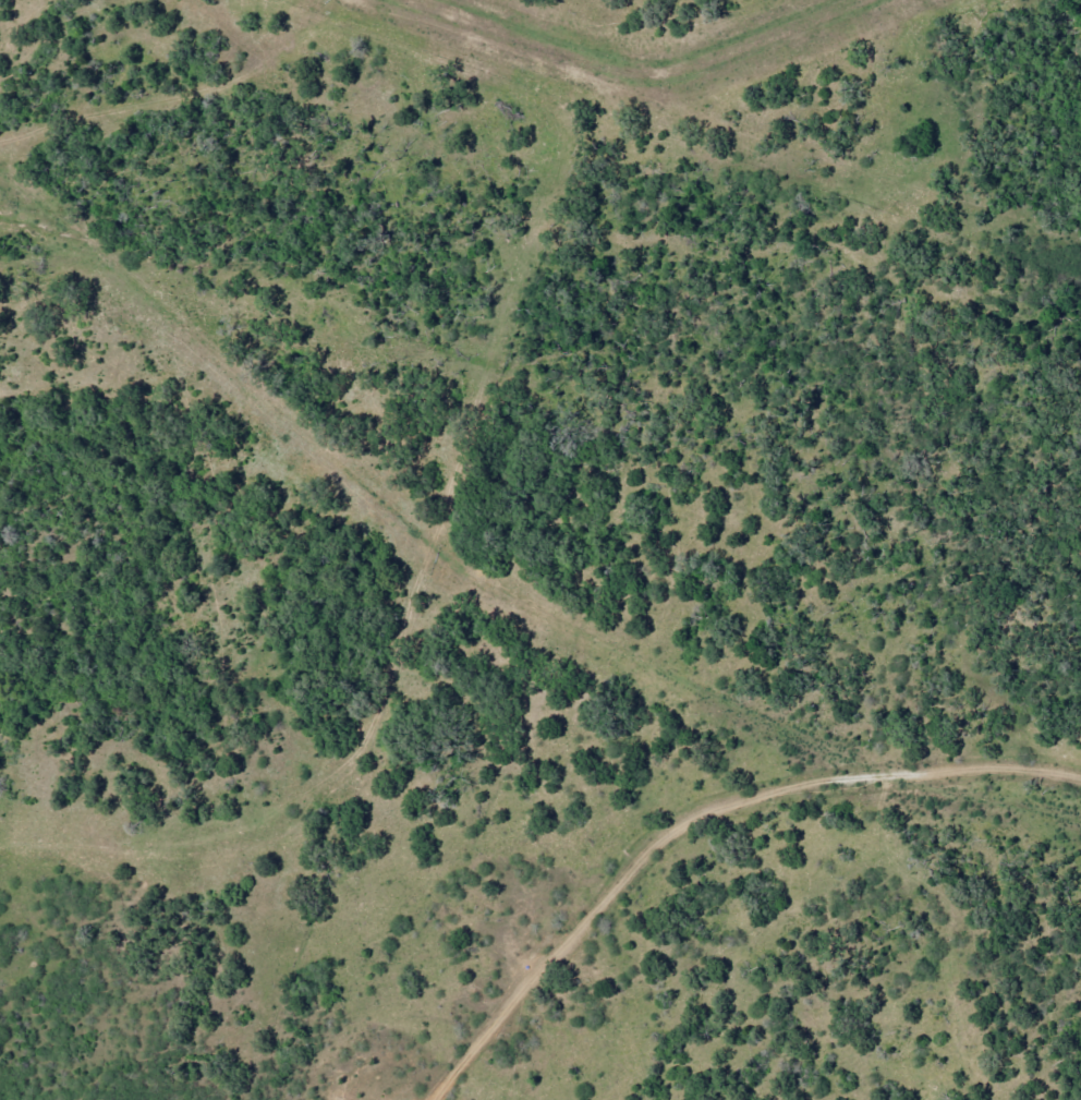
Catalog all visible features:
road: (906, 868)

